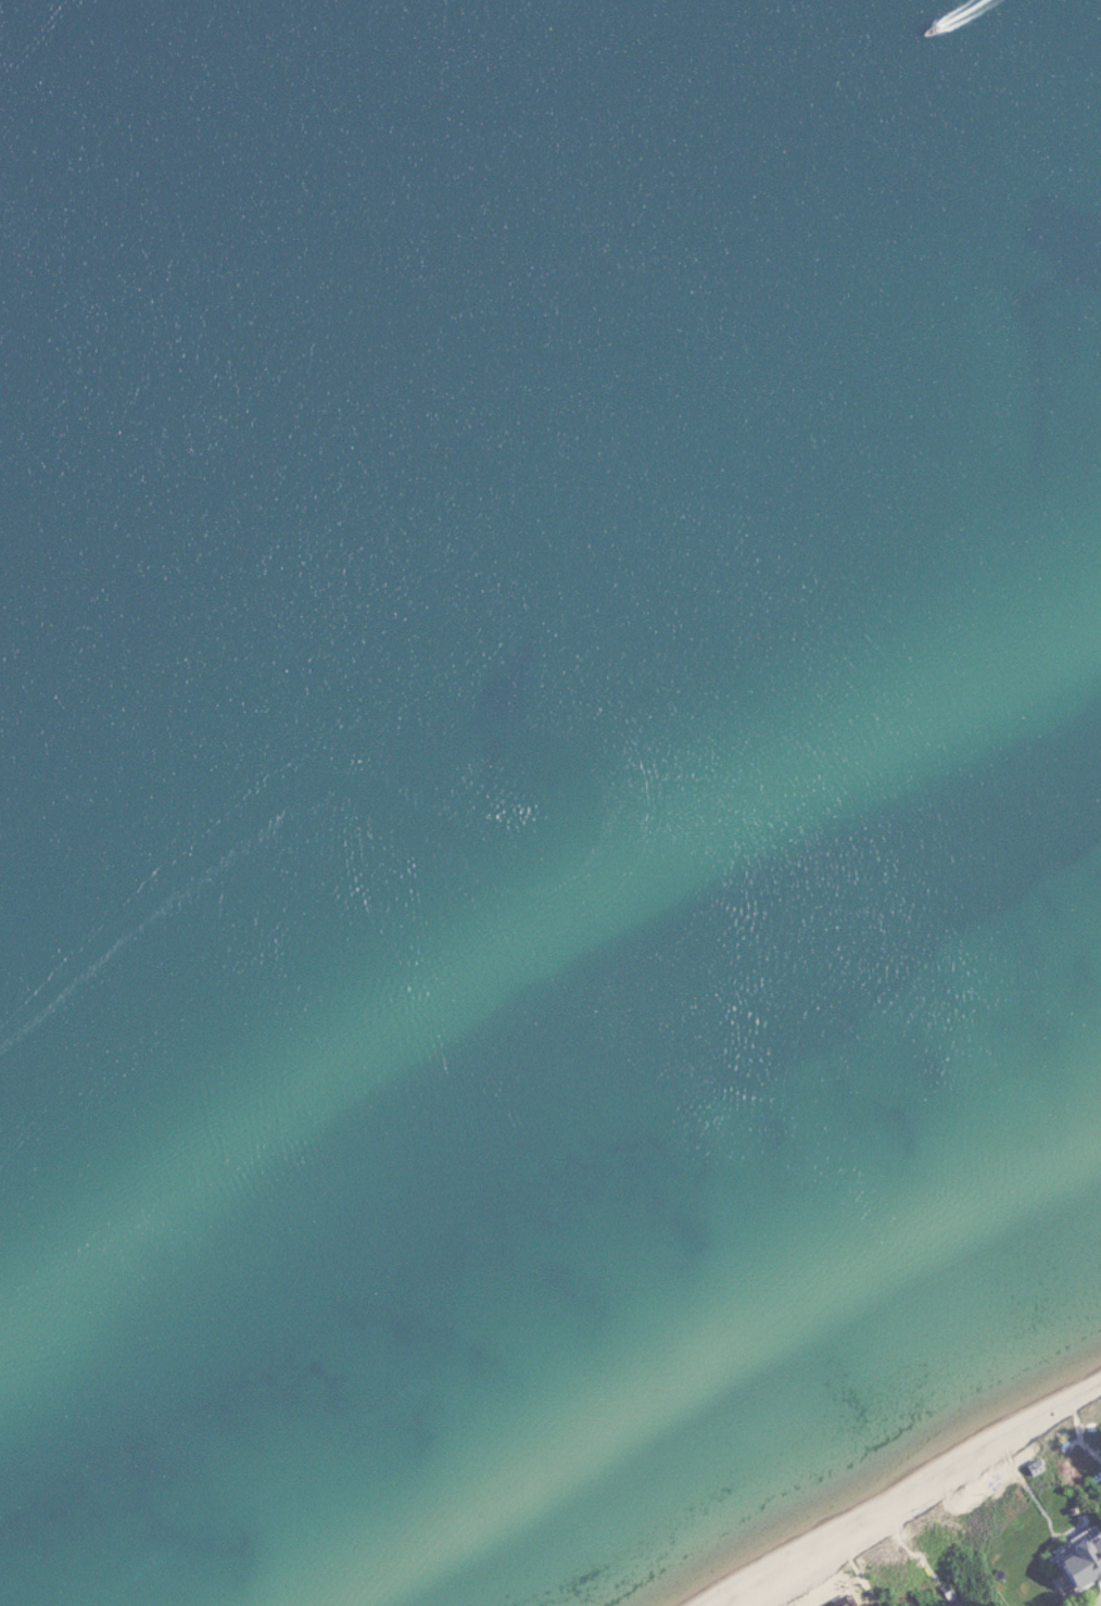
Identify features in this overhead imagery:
road: (1077, 1415)
road: (906, 1541)
road: (856, 1556)
building: (1074, 1567)
road: (742, 1597)

